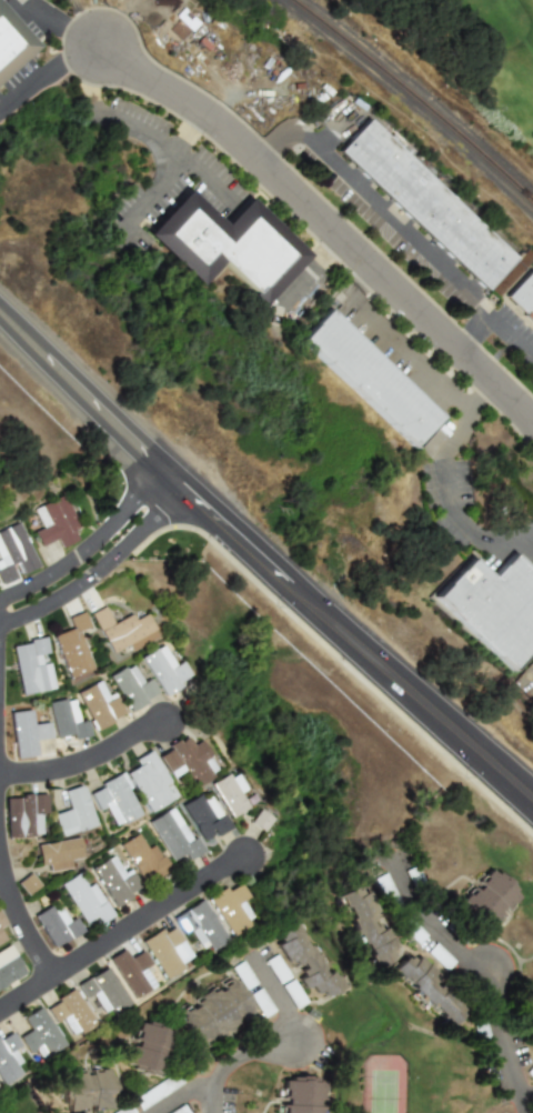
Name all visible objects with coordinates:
road: (88, 22)
building: (10, 41)
park: (473, 50)
road: (46, 72)
railway: (414, 97)
road: (144, 130)
road: (167, 177)
road: (368, 191)
building: (431, 205)
road: (324, 224)
building: (229, 243)
road: (309, 274)
road: (313, 274)
building: (524, 297)
road: (494, 319)
road: (400, 342)
road: (504, 351)
street lamp: (7, 365)
building: (369, 377)
street lamp: (81, 434)
road: (449, 487)
building: (53, 522)
road: (89, 542)
street lamp: (190, 547)
building: (13, 553)
road: (262, 562)
road: (102, 575)
building: (493, 606)
street lamp: (274, 608)
building: (120, 628)
building: (140, 641)
building: (72, 646)
building: (31, 666)
building: (164, 670)
building: (131, 686)
building: (98, 704)
building: (64, 719)
building: (27, 732)
street lamp: (385, 732)
road: (87, 761)
building: (187, 761)
building: (148, 781)
building: (232, 796)
building: (114, 800)
building: (73, 812)
building: (23, 814)
building: (203, 816)
building: (260, 820)
building: (173, 835)
building: (58, 853)
building: (143, 859)
building: (114, 880)
building: (416, 882)
building: (27, 883)
building: (385, 890)
building: (486, 898)
building: (84, 900)
building: (231, 909)
road: (21, 919)
building: (1, 921)
road: (429, 922)
building: (56, 925)
building: (200, 925)
building: (365, 925)
building: (410, 930)
road: (122, 932)
building: (1, 937)
building: (165, 951)
building: (438, 955)
building: (304, 961)
building: (8, 966)
building: (276, 969)
building: (131, 972)
parking lot: (461, 972)
building: (242, 975)
building: (430, 987)
building: (531, 987)
building: (102, 990)
building: (292, 993)
road: (279, 995)
building: (261, 1002)
building: (524, 1007)
building: (69, 1012)
building: (214, 1013)
parking lot: (292, 1029)
building: (38, 1033)
building: (480, 1039)
road: (505, 1044)
building: (149, 1046)
building: (7, 1056)
road: (238, 1060)
building: (529, 1071)
building: (83, 1090)
building: (157, 1090)
park: (382, 1092)
building: (300, 1094)
road: (183, 1097)
road: (531, 1105)
building: (122, 1110)
building: (178, 1110)

